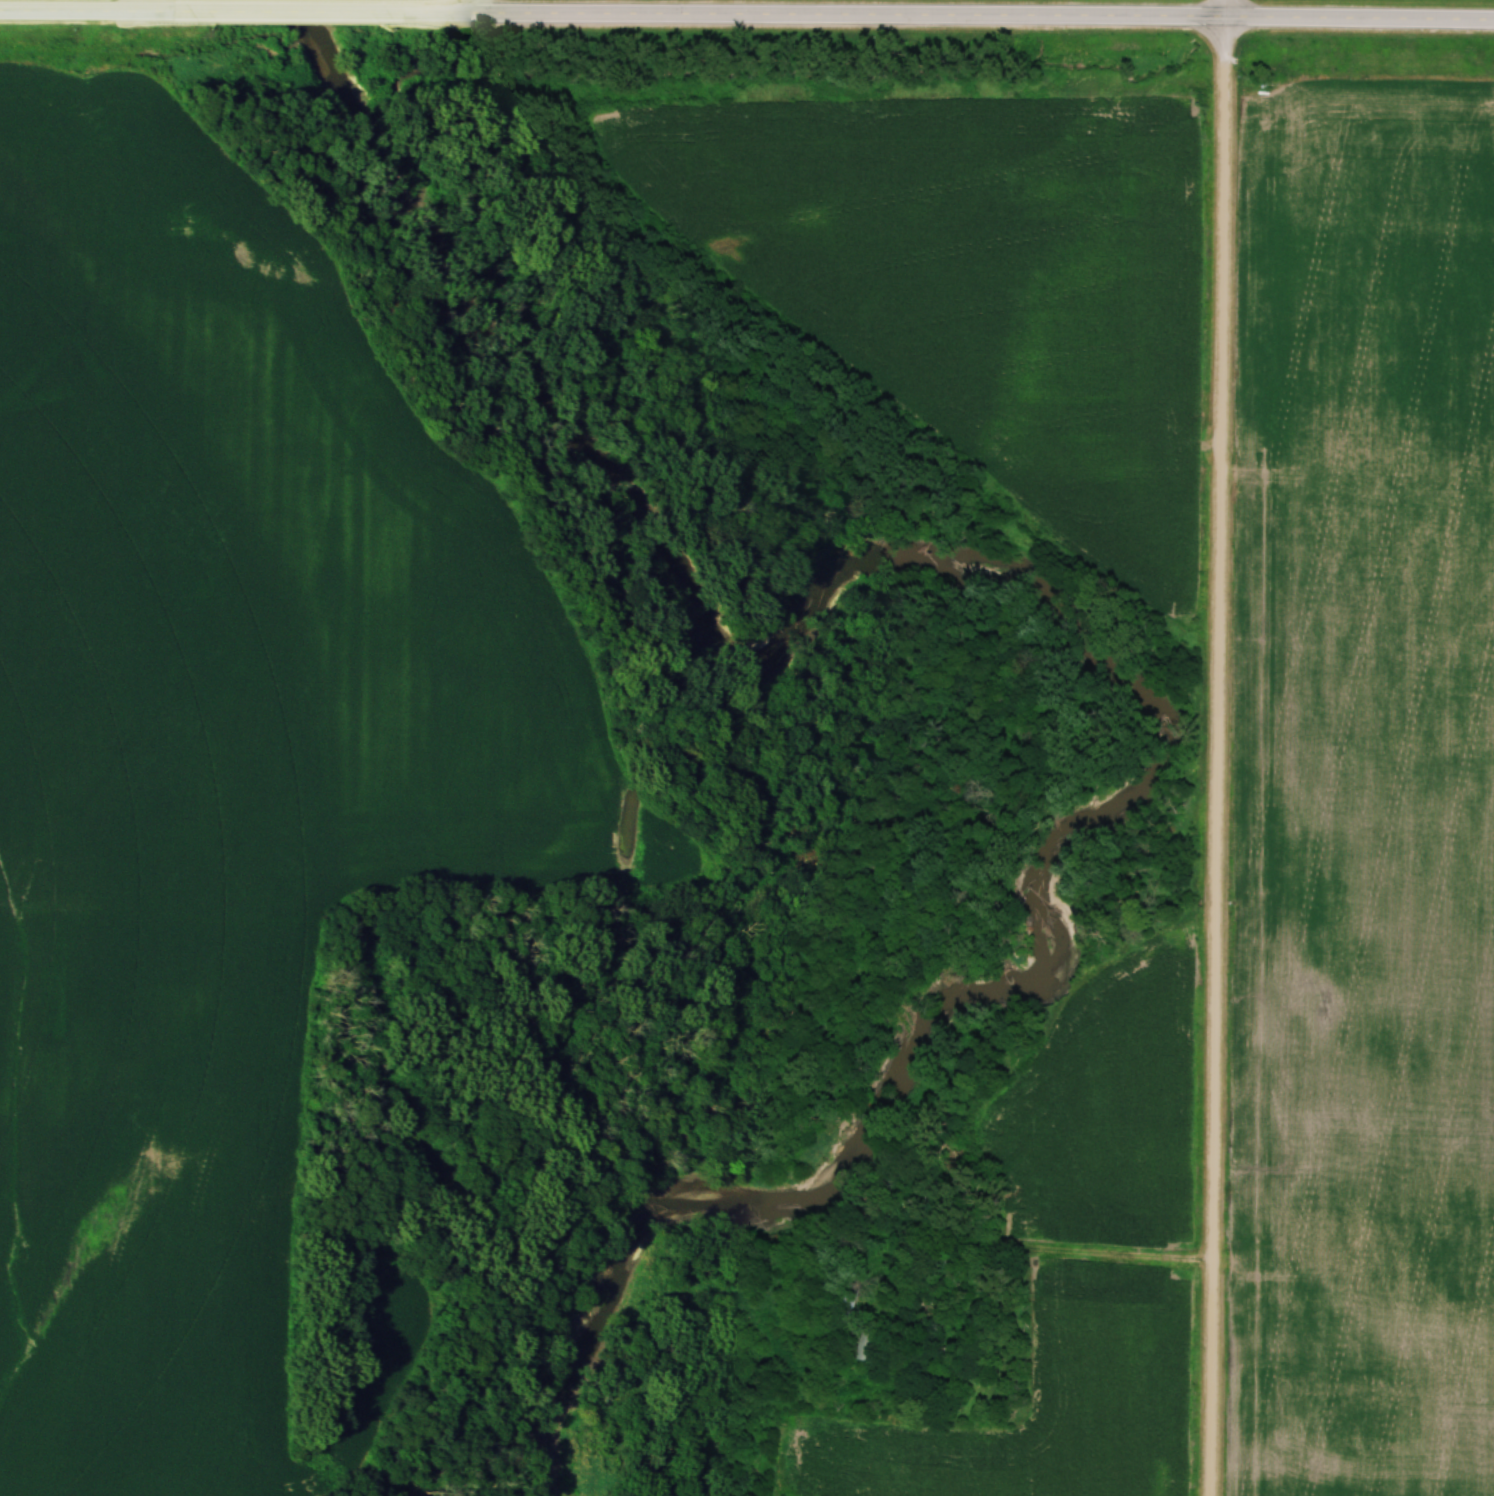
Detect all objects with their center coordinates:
road: (88, 9)
road: (274, 9)
road: (932, 12)
road: (1220, 747)
road: (1012, 1245)
building: (836, 1300)
building: (858, 1342)

